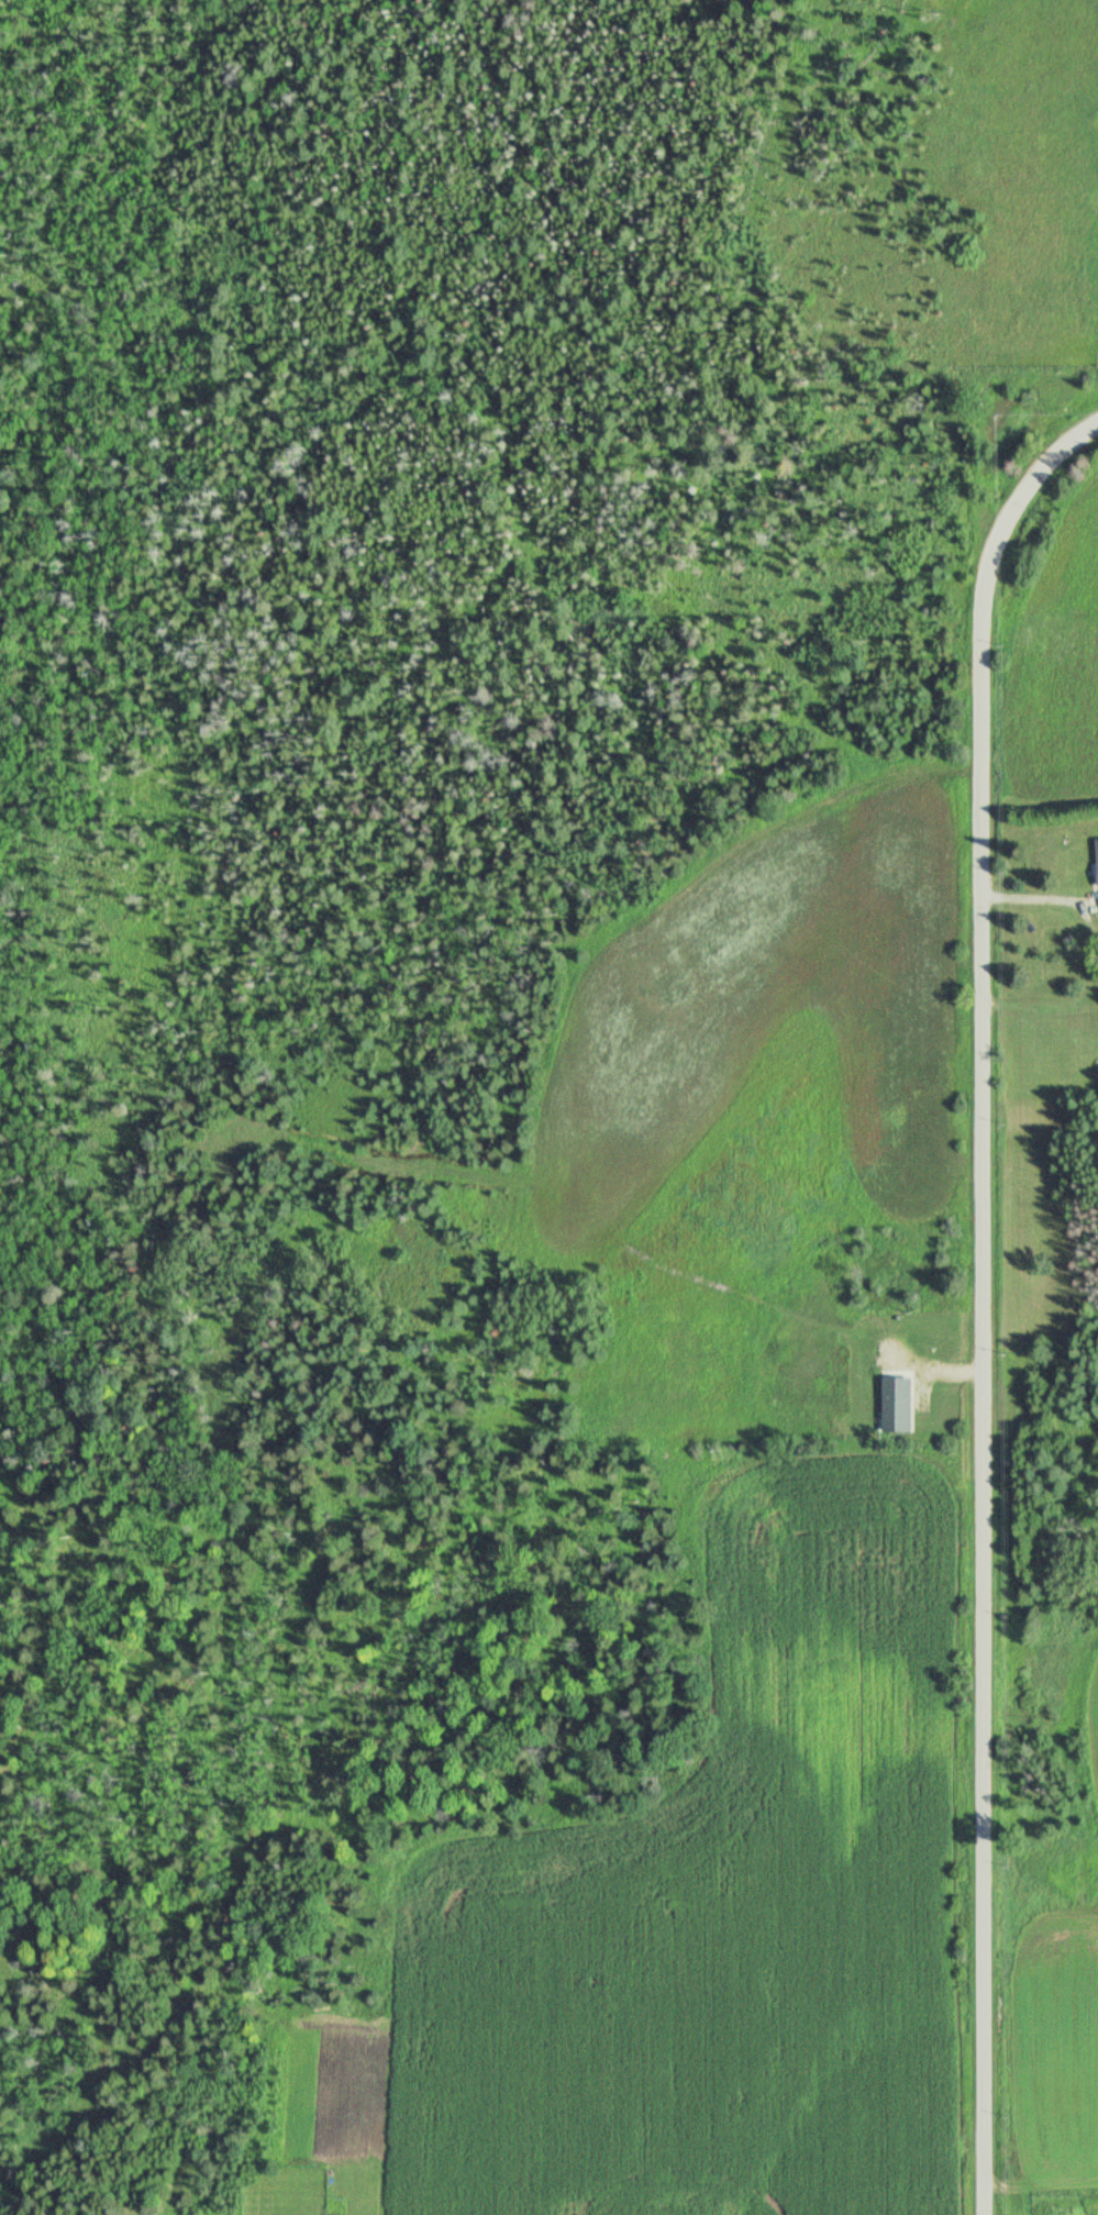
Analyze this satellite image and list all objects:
road: (1050, 897)
road: (991, 1305)
building: (905, 1399)
building: (888, 1407)

